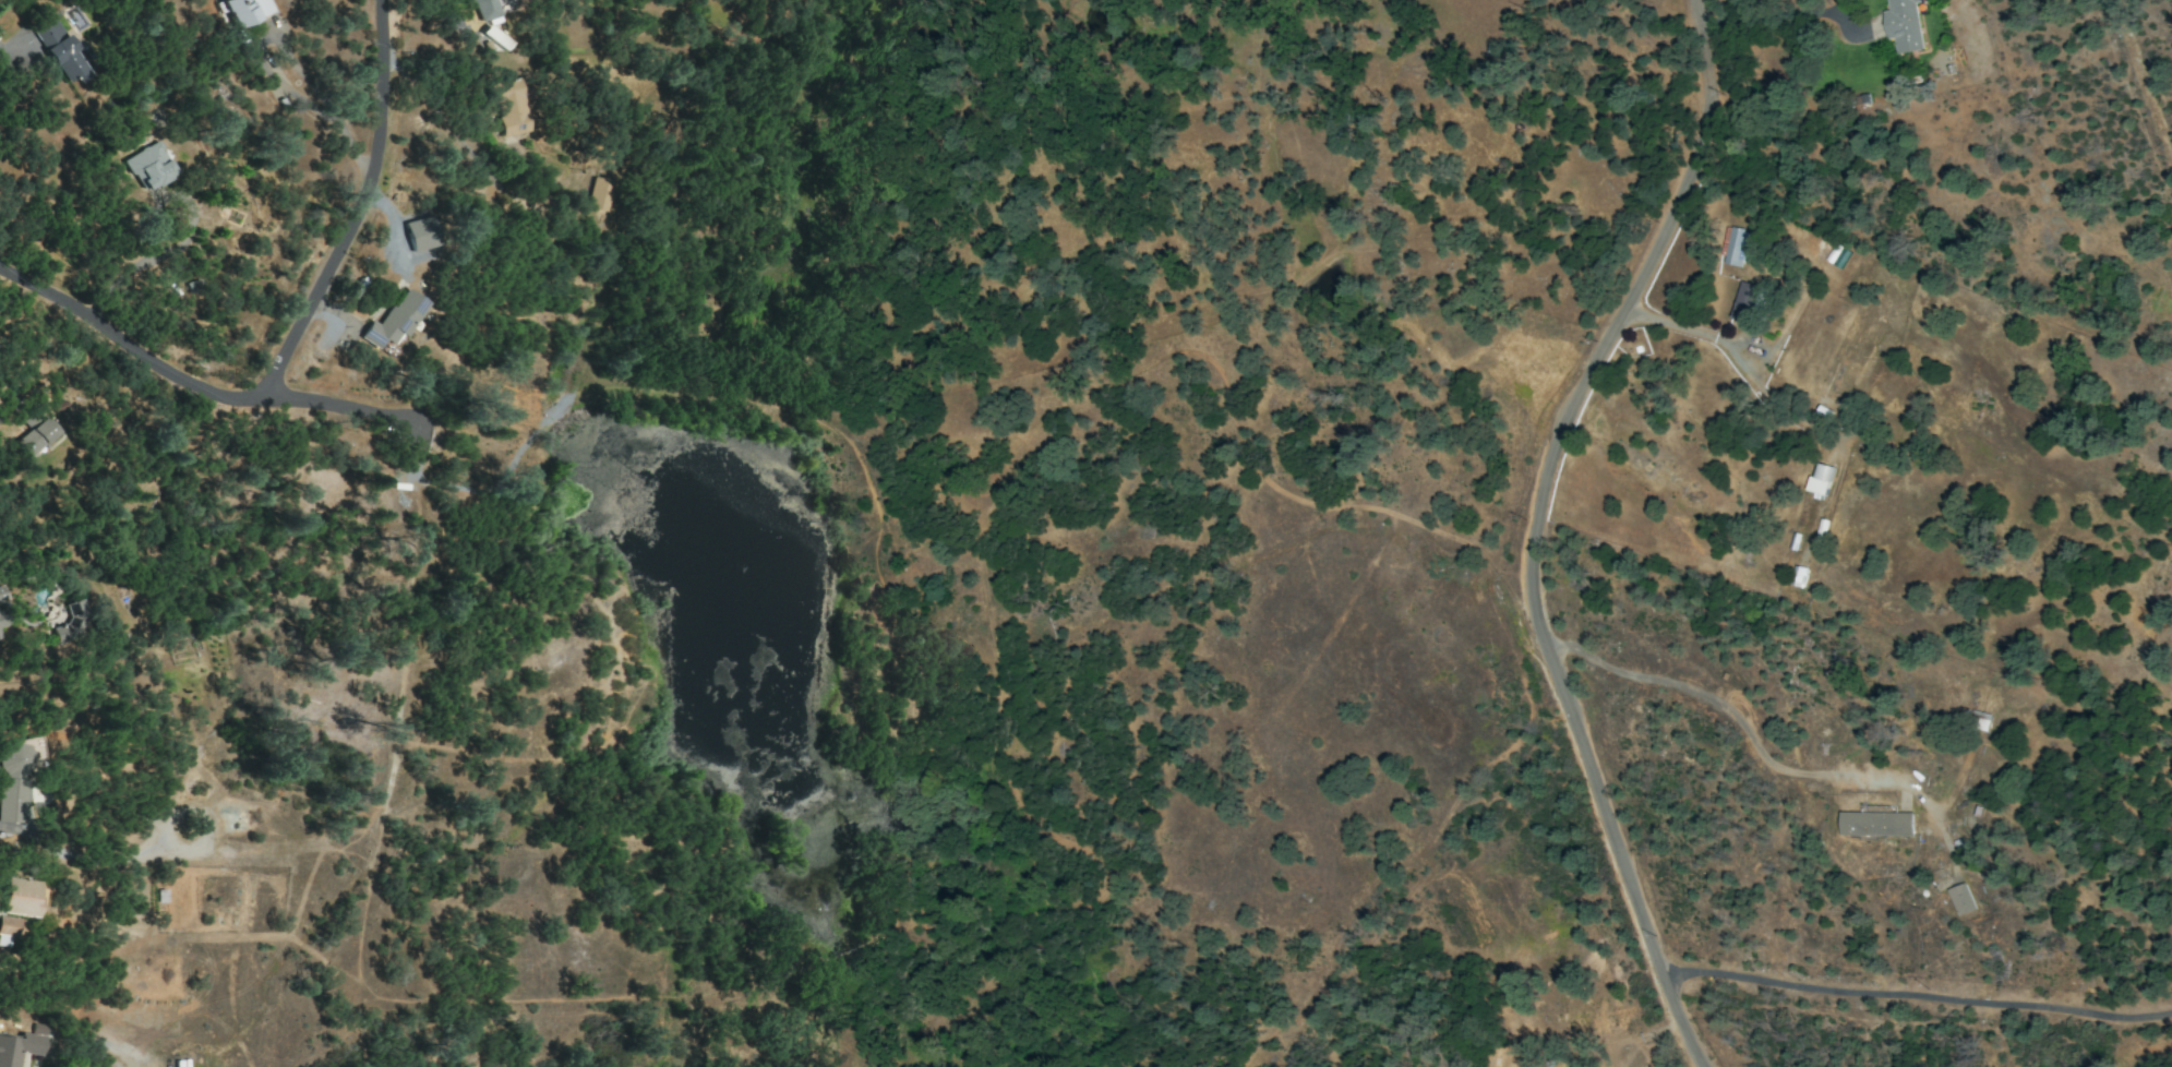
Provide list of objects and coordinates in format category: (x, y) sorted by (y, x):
building: (484, 9)
building: (244, 11)
building: (1903, 25)
road: (382, 31)
building: (494, 38)
building: (59, 50)
road: (11, 53)
building: (508, 107)
road: (325, 115)
road: (468, 148)
building: (148, 167)
building: (597, 194)
building: (419, 233)
building: (1736, 247)
building: (1837, 255)
building: (1748, 303)
building: (394, 321)
road: (1739, 344)
road: (275, 365)
building: (1829, 386)
road: (340, 408)
building: (61, 415)
building: (31, 419)
building: (35, 437)
building: (1819, 480)
road: (1534, 530)
building: (1, 620)
building: (72, 623)
building: (0, 637)
road: (1717, 699)
building: (1977, 721)
building: (14, 780)
building: (1875, 824)
building: (17, 897)
building: (1960, 899)
building: (8, 927)
road: (1916, 995)
building: (16, 1047)

